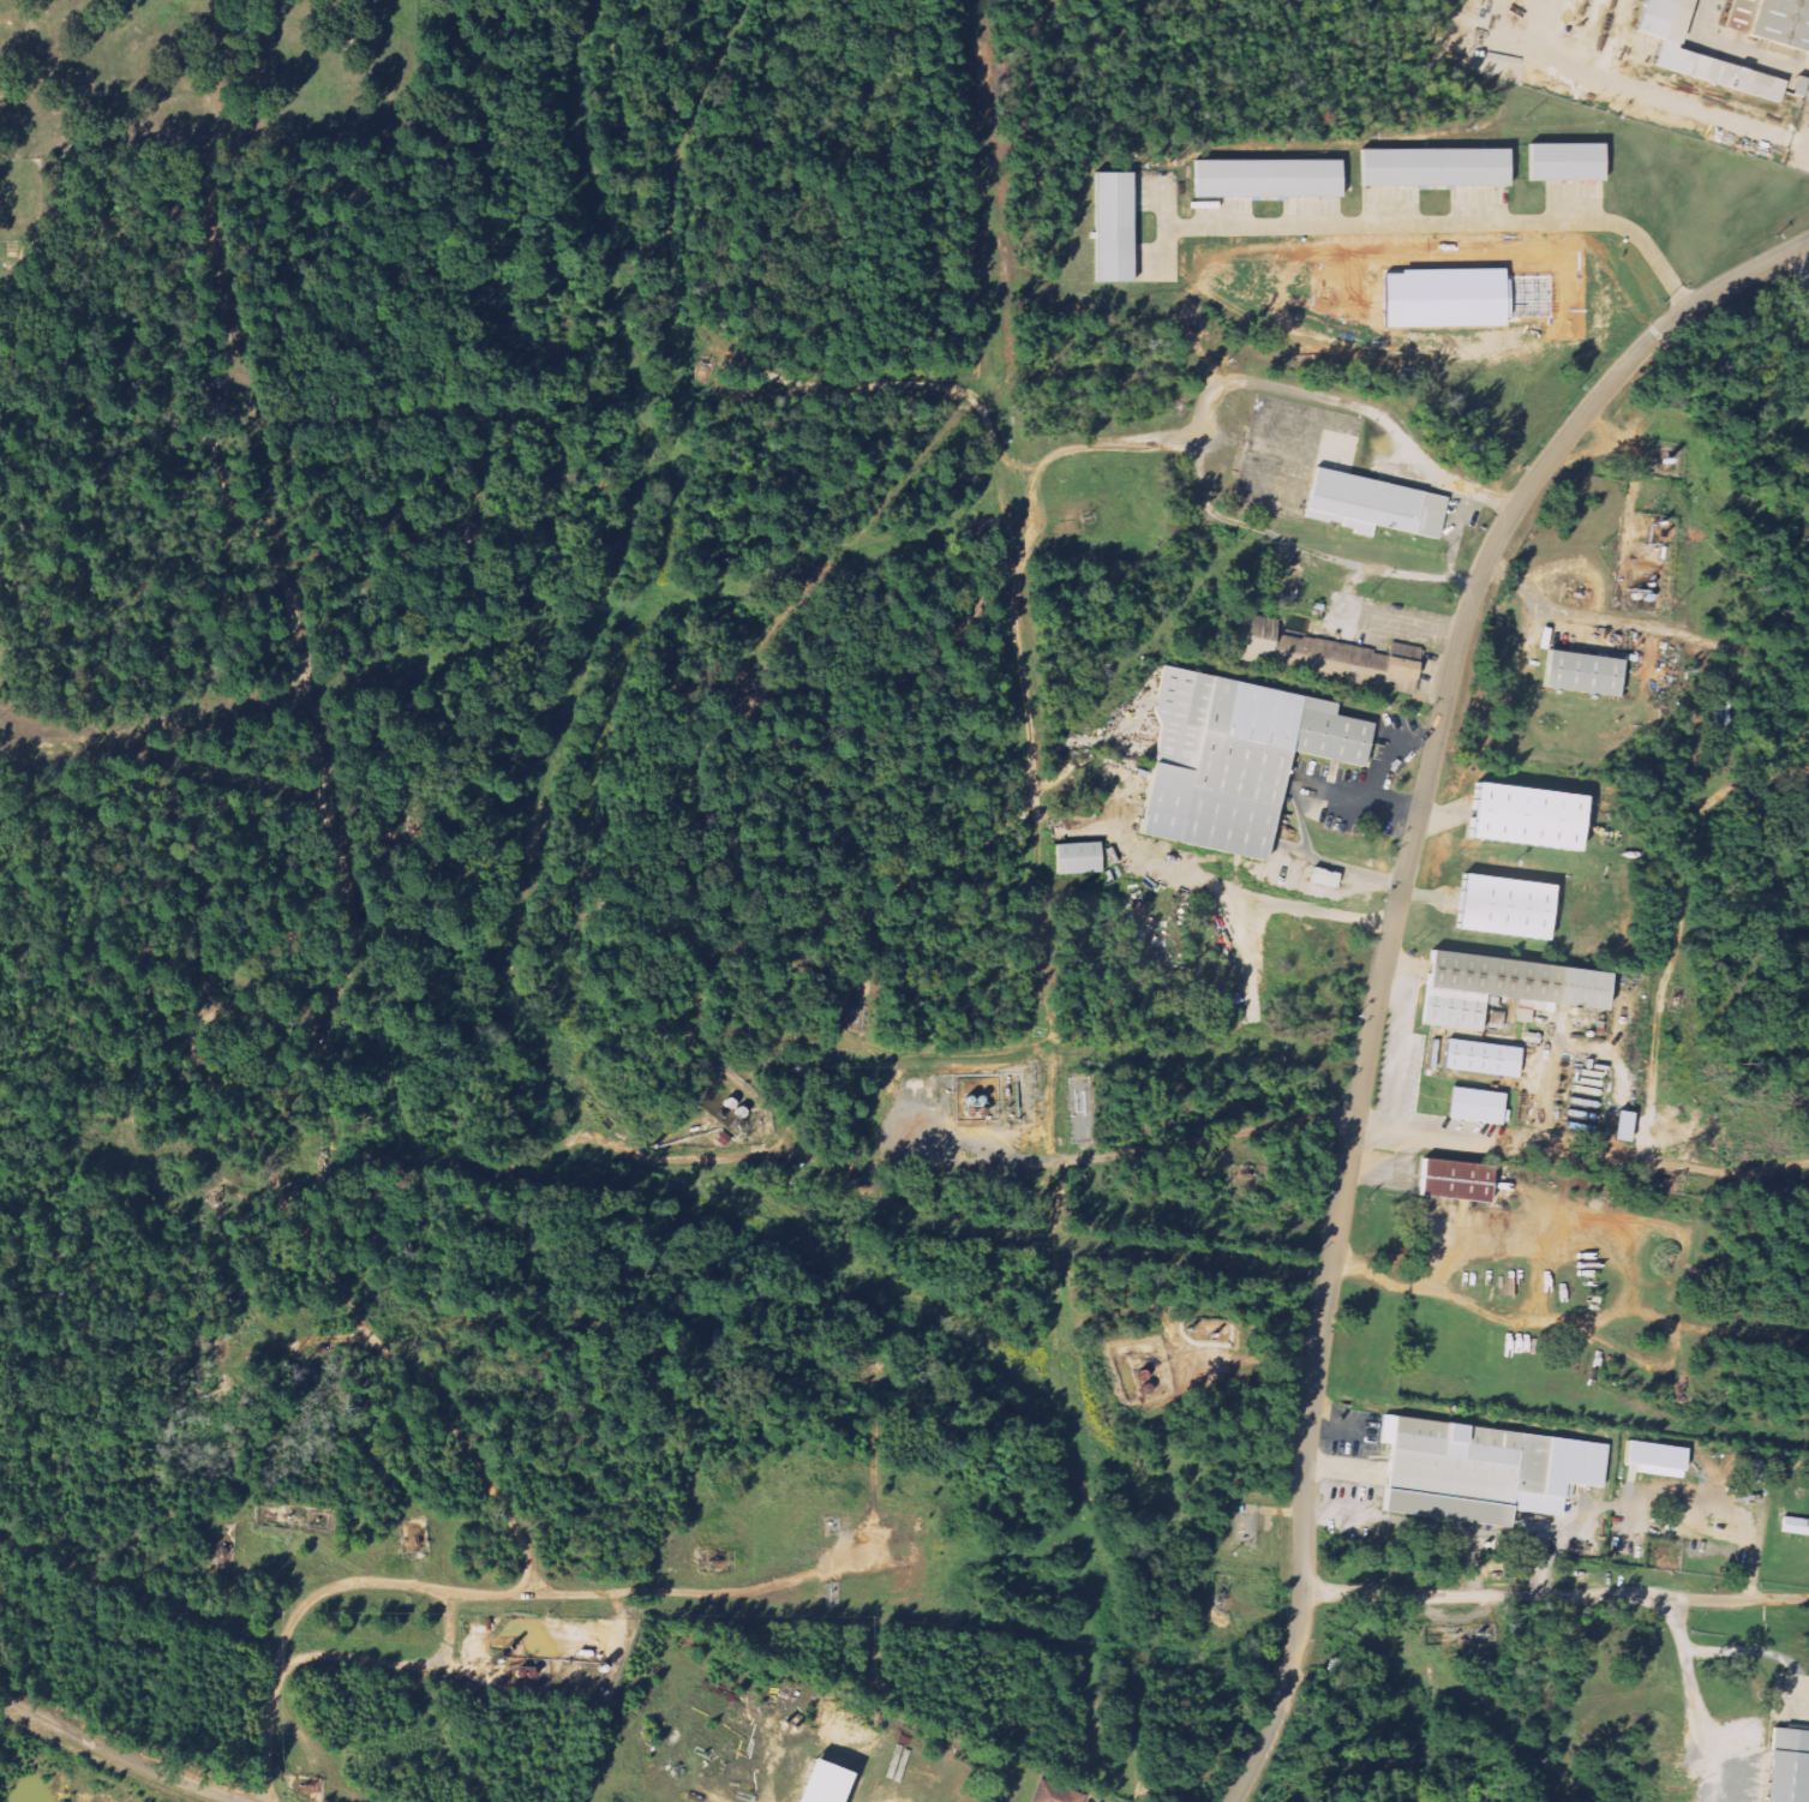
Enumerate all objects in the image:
building: (1772, 20)
road: (1023, 46)
building: (1701, 54)
building: (1797, 84)
building: (1563, 163)
building: (1432, 168)
building: (1265, 179)
building: (1110, 228)
road: (1805, 269)
road: (1228, 383)
road: (843, 385)
road: (1014, 462)
building: (1372, 505)
road: (1457, 534)
road: (1299, 547)
road: (1020, 591)
road: (1384, 617)
building: (1325, 657)
building: (1580, 672)
building: (1232, 759)
road: (1379, 765)
building: (1523, 815)
road: (1304, 833)
building: (1076, 857)
road: (349, 864)
building: (1319, 878)
road: (204, 885)
building: (1503, 906)
road: (1386, 954)
building: (1499, 987)
building: (1479, 1059)
road: (1654, 1082)
building: (1474, 1104)
building: (1619, 1126)
road: (1652, 1160)
road: (966, 1161)
building: (1452, 1180)
road: (1564, 1321)
road: (1807, 1341)
road: (288, 1343)
road: (1807, 1343)
building: (1652, 1459)
road: (696, 1466)
building: (1458, 1469)
building: (1790, 1526)
road: (563, 1593)
road: (1556, 1598)
road: (1690, 1678)
road: (116, 1754)
building: (1787, 1766)
building: (816, 1783)
building: (1054, 1791)

